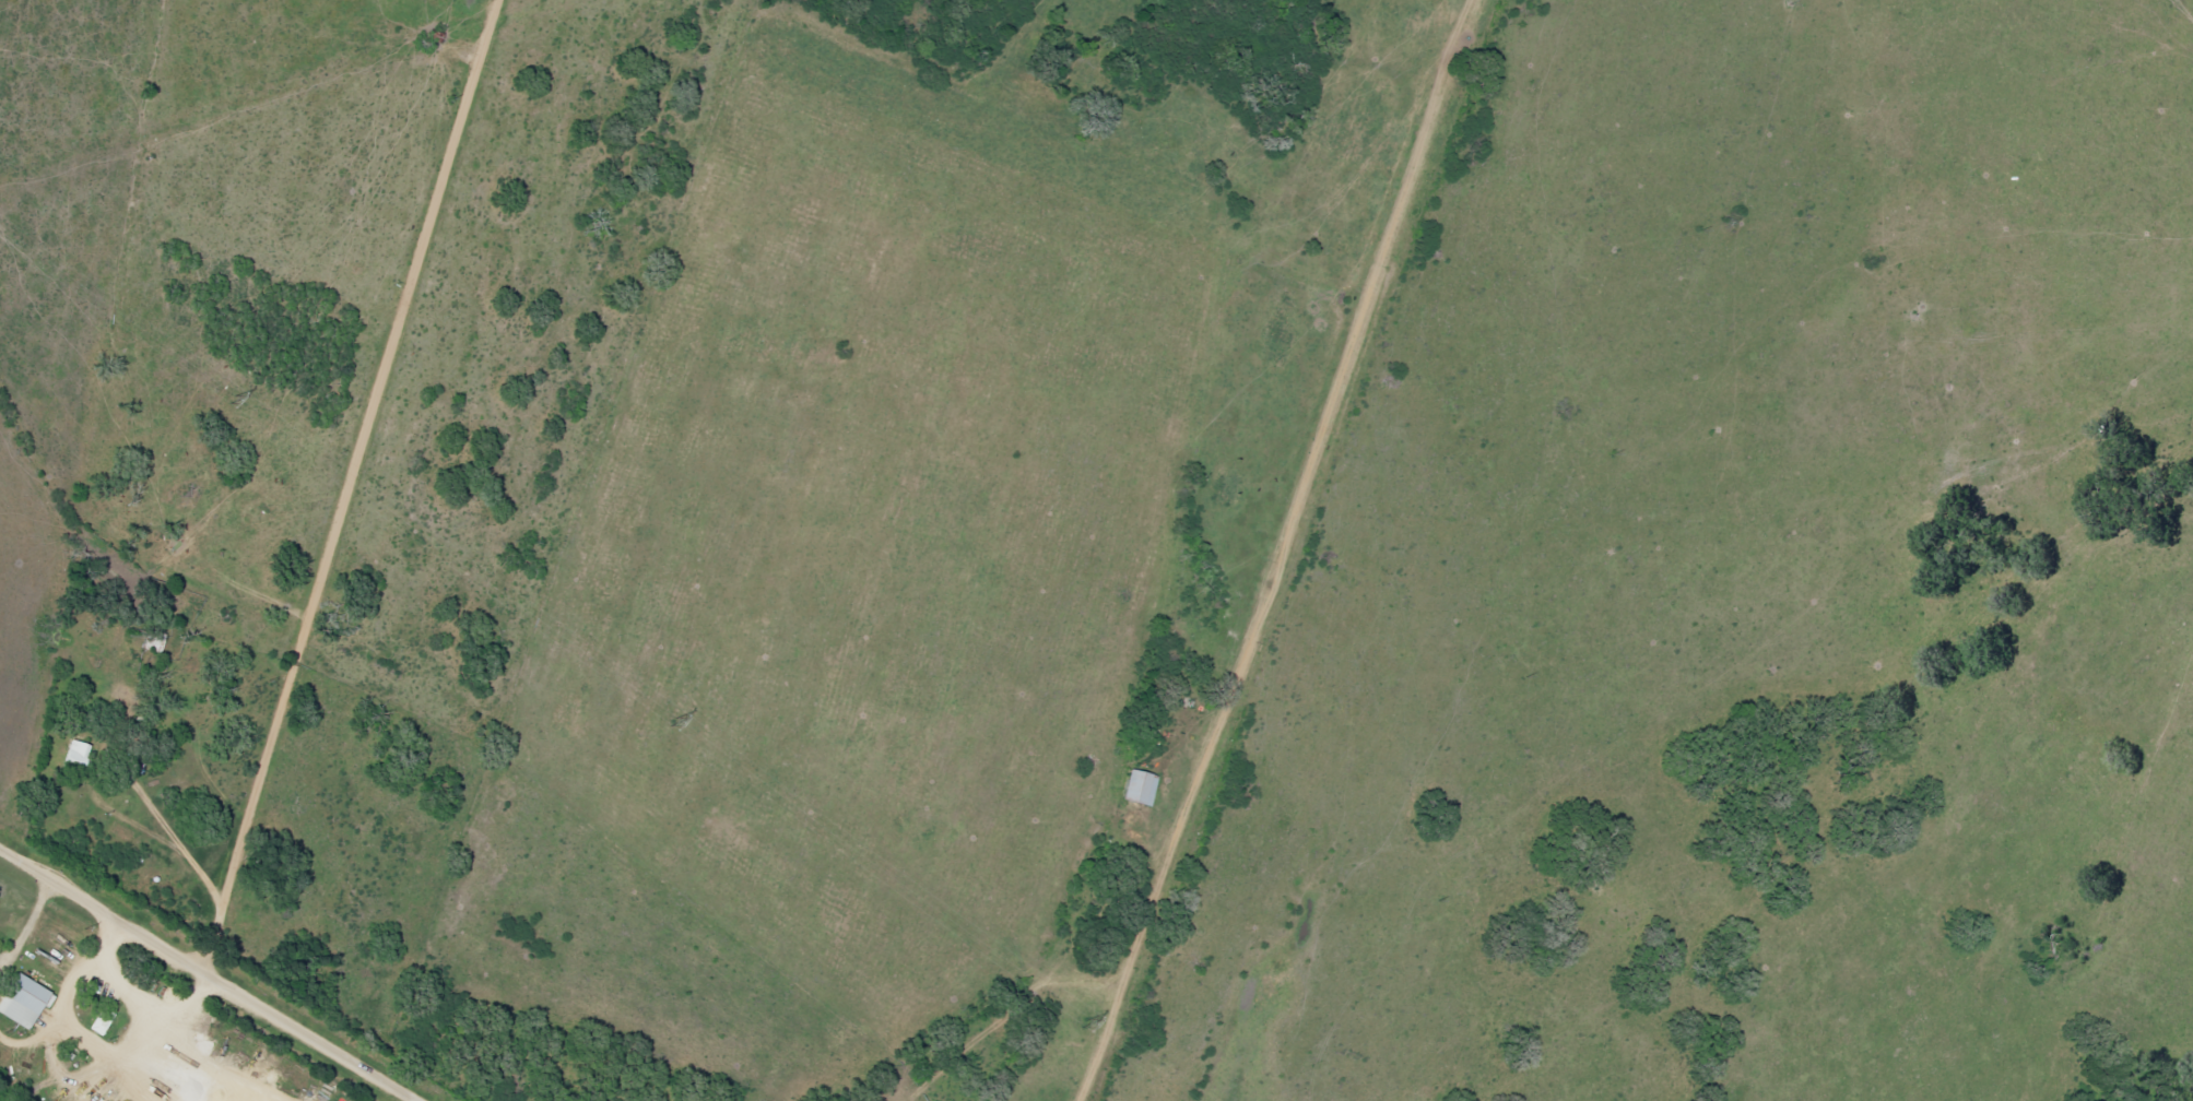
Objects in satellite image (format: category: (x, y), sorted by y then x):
power tower: (227, 401)
road: (344, 484)
road: (1216, 591)
power tower: (665, 723)
building: (78, 757)
building: (1141, 786)
road: (1149, 849)
road: (212, 975)
building: (23, 1001)
power tower: (1077, 1026)

